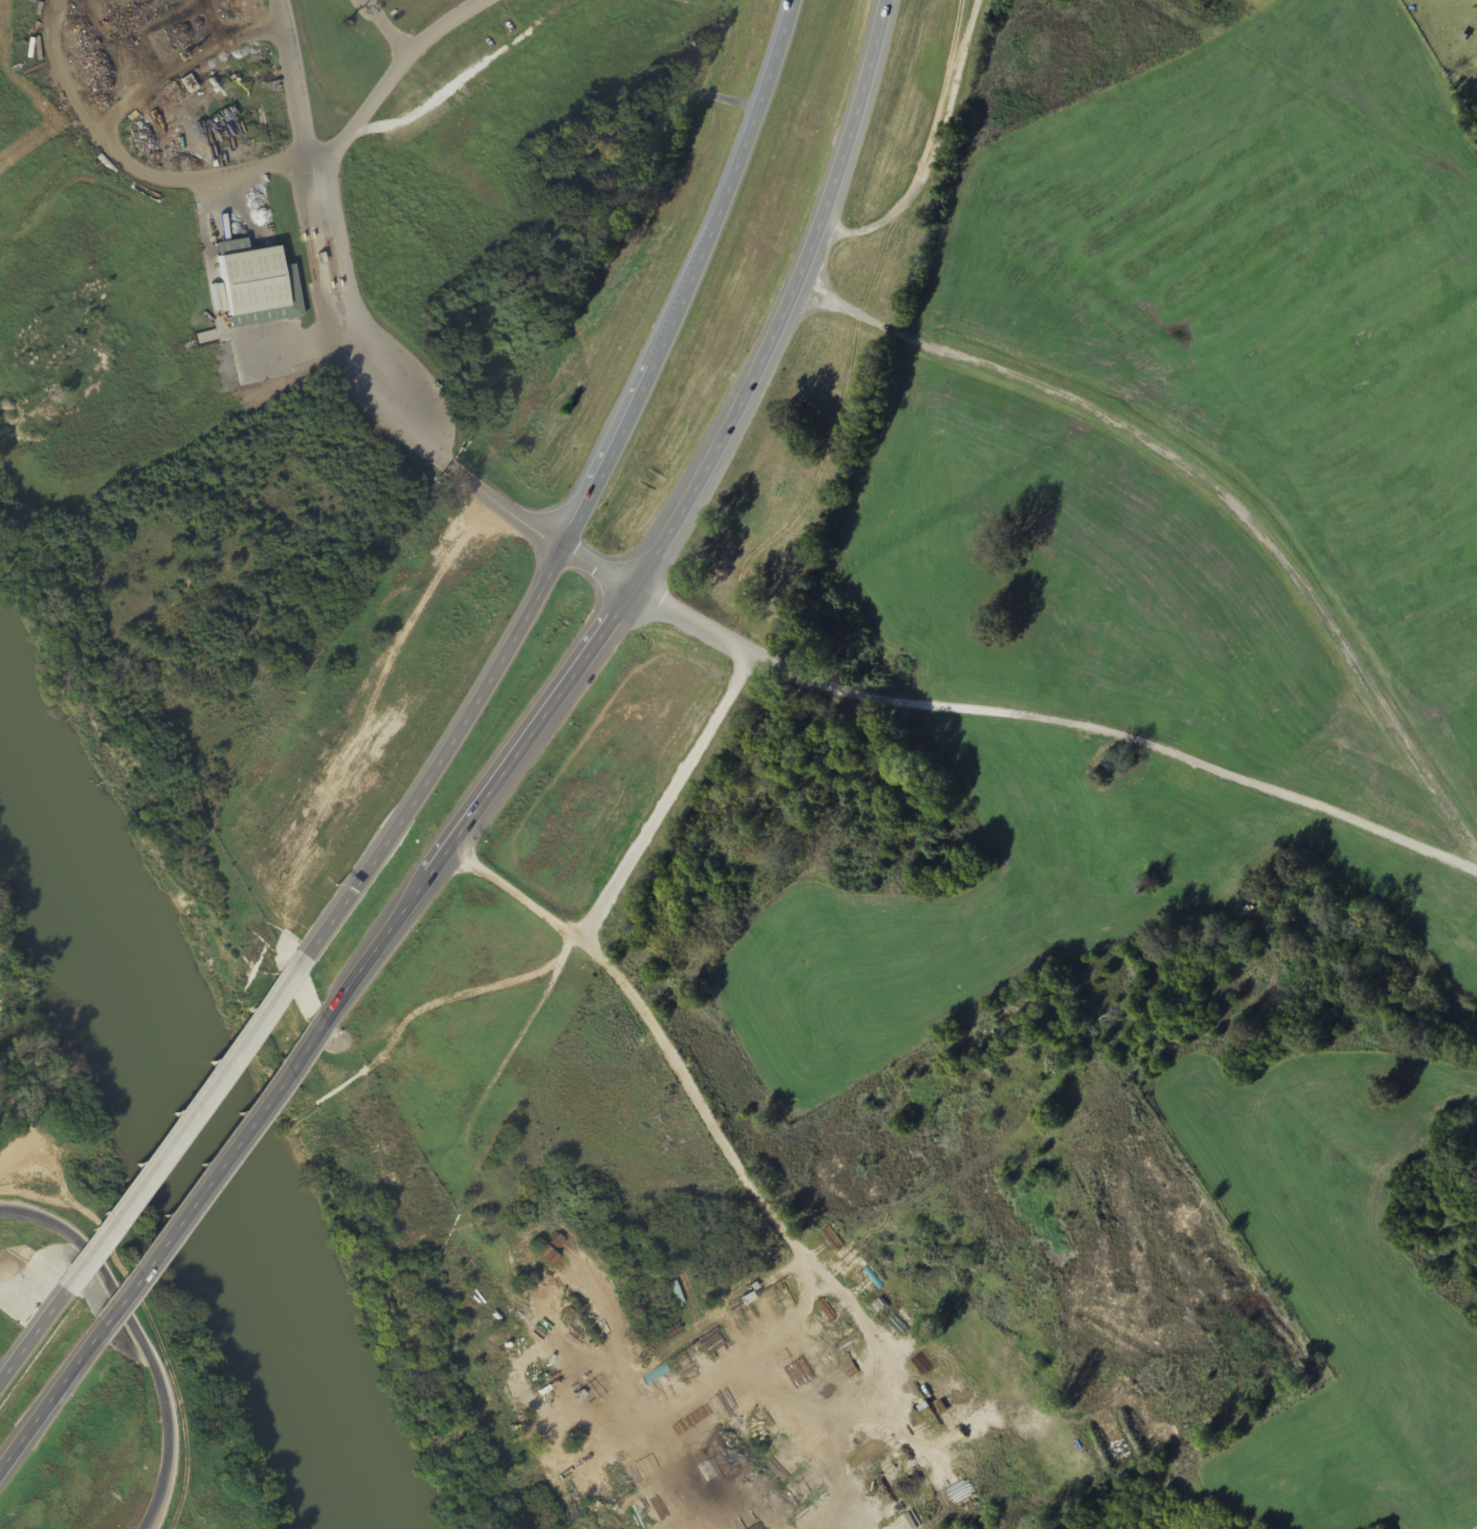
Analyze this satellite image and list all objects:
building: (193, 85)
road: (692, 278)
building: (267, 291)
road: (723, 450)
road: (1205, 478)
road: (497, 504)
road: (441, 760)
road: (627, 868)
road: (393, 929)
road: (699, 1103)
road: (188, 1120)
river: (194, 1146)
road: (217, 1172)
road: (38, 1330)
road: (143, 1336)
road: (52, 1402)
road: (2, 1473)

